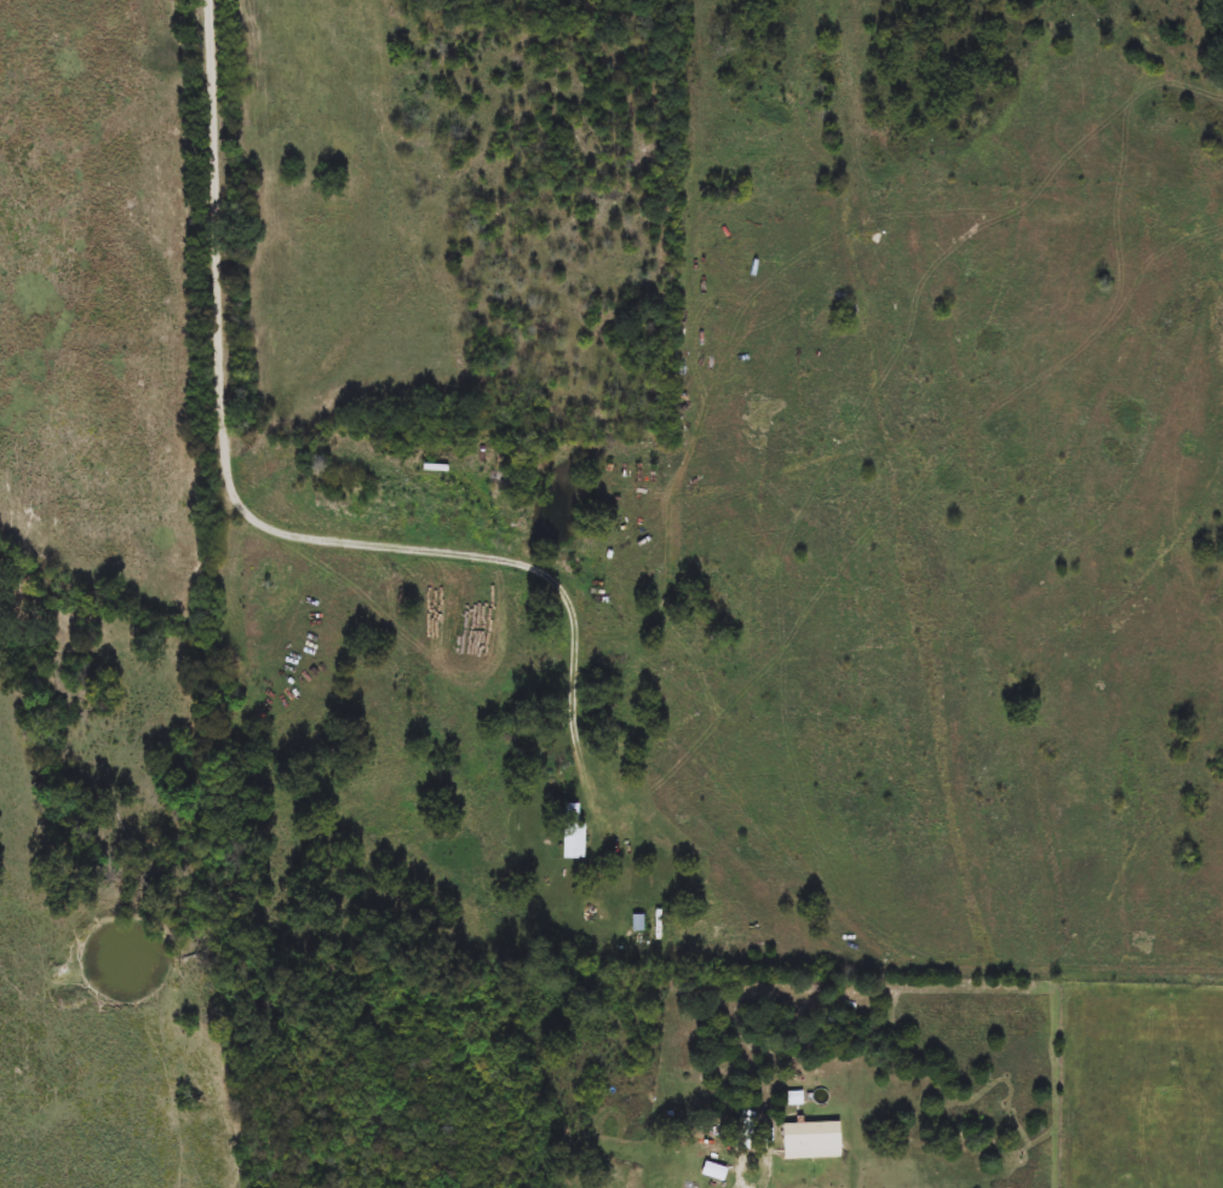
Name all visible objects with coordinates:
road: (697, 389)
road: (236, 509)
building: (575, 831)
building: (814, 1141)

